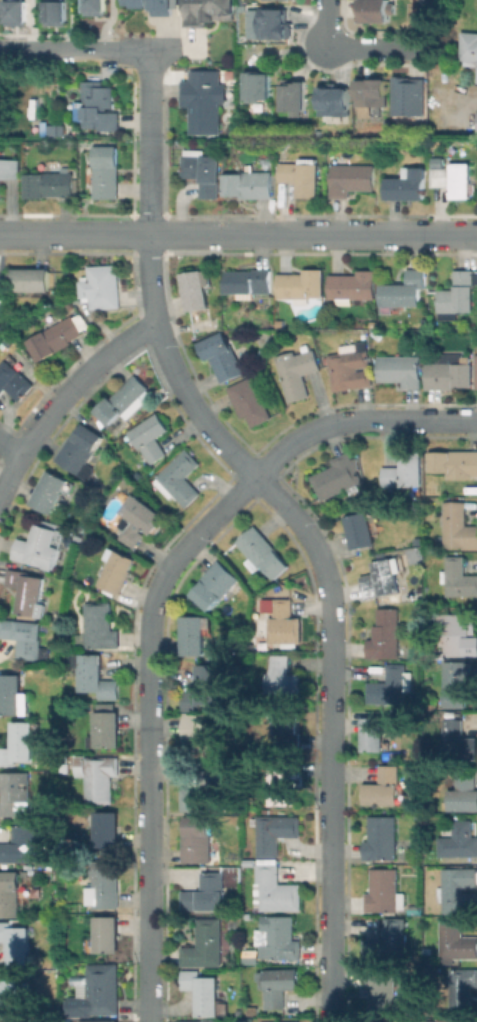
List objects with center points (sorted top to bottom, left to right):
building: (157, 4)
building: (93, 7)
building: (376, 10)
building: (56, 11)
building: (16, 12)
building: (208, 12)
road: (326, 23)
road: (418, 23)
building: (277, 26)
road: (373, 47)
building: (468, 47)
road: (90, 48)
building: (257, 83)
building: (391, 95)
building: (296, 96)
building: (336, 103)
building: (203, 104)
building: (100, 106)
building: (476, 122)
building: (52, 128)
building: (438, 161)
building: (10, 170)
building: (106, 171)
building: (204, 171)
building: (302, 175)
building: (455, 178)
building: (352, 179)
building: (49, 184)
building: (249, 184)
building: (409, 184)
road: (238, 234)
road: (151, 278)
building: (32, 279)
building: (249, 282)
building: (302, 284)
building: (104, 286)
building: (353, 286)
building: (198, 288)
building: (404, 291)
building: (3, 294)
building: (458, 295)
building: (426, 322)
building: (377, 334)
building: (59, 336)
building: (223, 357)
building: (351, 366)
building: (401, 370)
building: (475, 370)
building: (298, 371)
building: (448, 373)
building: (14, 380)
road: (64, 396)
building: (124, 400)
building: (251, 401)
road: (357, 422)
building: (151, 437)
road: (10, 447)
building: (81, 448)
building: (455, 462)
building: (406, 471)
building: (339, 476)
building: (180, 478)
building: (53, 491)
building: (139, 520)
building: (458, 526)
building: (362, 530)
building: (42, 545)
building: (263, 553)
building: (119, 570)
building: (458, 578)
building: (381, 579)
building: (216, 584)
building: (29, 593)
building: (384, 599)
building: (286, 624)
building: (100, 627)
building: (460, 633)
building: (196, 634)
building: (386, 634)
building: (24, 637)
building: (283, 675)
building: (97, 677)
building: (458, 683)
building: (391, 686)
building: (205, 688)
building: (13, 695)
building: (290, 728)
building: (107, 729)
road: (150, 730)
building: (378, 734)
building: (204, 736)
road: (335, 736)
building: (458, 741)
building: (20, 744)
building: (100, 776)
building: (284, 781)
building: (385, 787)
building: (14, 791)
building: (206, 792)
building: (465, 792)
building: (34, 817)
building: (108, 829)
building: (276, 832)
building: (383, 838)
building: (198, 839)
building: (460, 840)
building: (25, 844)
building: (250, 861)
building: (105, 885)
building: (276, 888)
building: (458, 890)
building: (385, 891)
building: (207, 892)
building: (10, 893)
building: (108, 934)
building: (281, 937)
building: (457, 941)
building: (389, 942)
building: (16, 943)
building: (206, 944)
building: (279, 985)
building: (102, 989)
building: (462, 989)
building: (203, 991)
building: (384, 992)
building: (13, 994)
building: (253, 1010)
building: (100, 1020)
building: (459, 1020)
building: (204, 1021)
building: (294, 1021)
building: (431, 1021)

